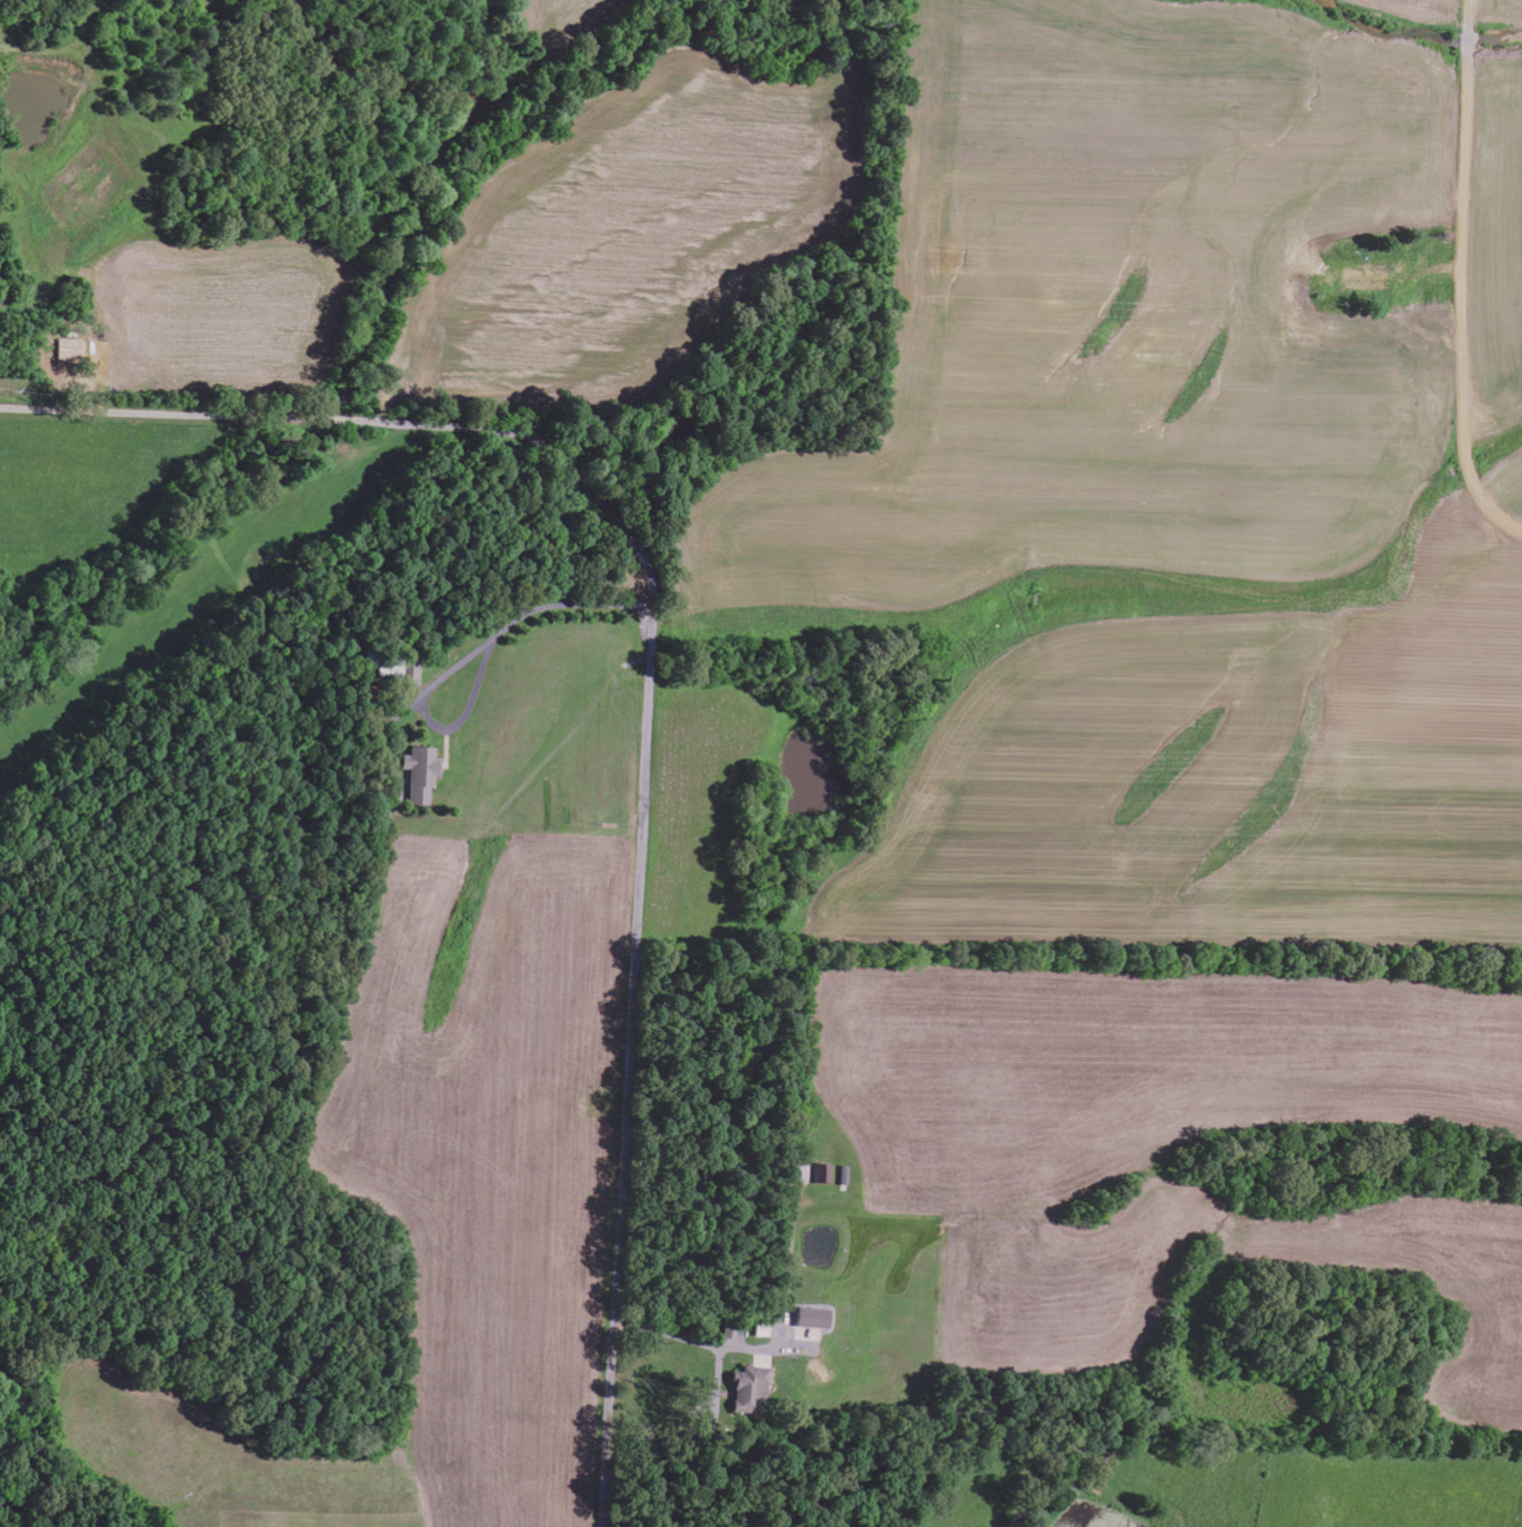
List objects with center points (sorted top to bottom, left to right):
road: (1463, 275)
road: (648, 695)
building: (420, 772)
building: (818, 1174)
building: (809, 1318)
building: (760, 1331)
building: (746, 1389)

